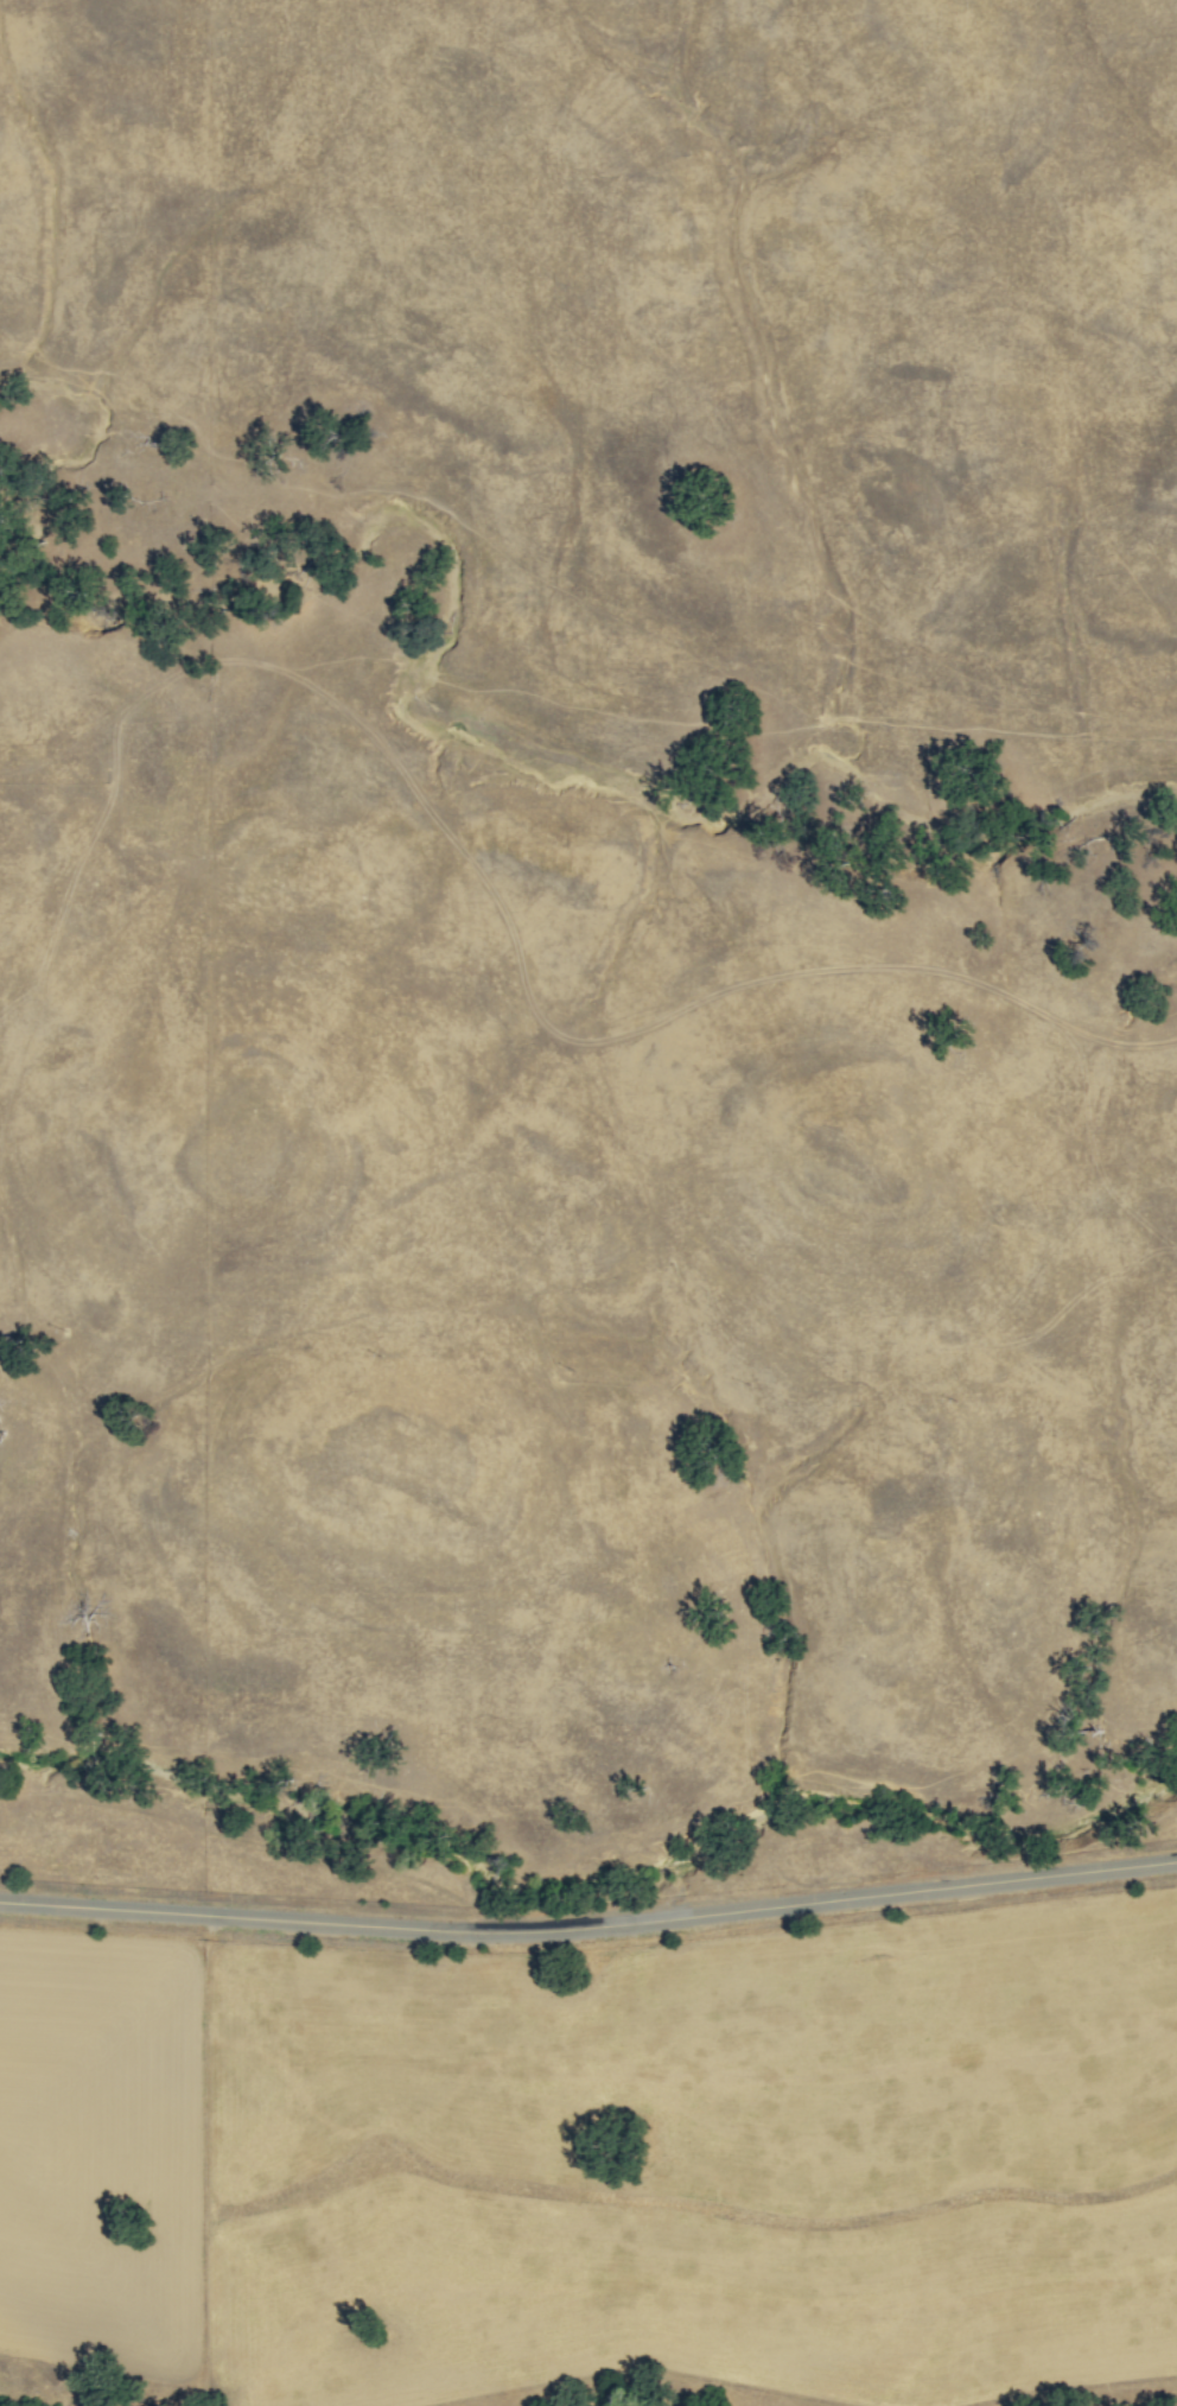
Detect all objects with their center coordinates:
road: (590, 1926)

